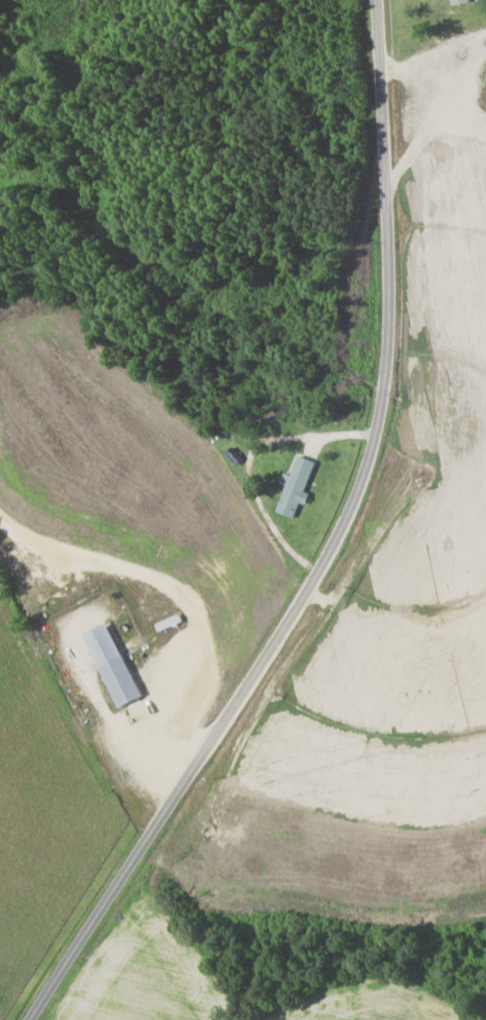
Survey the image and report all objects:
building: (297, 486)
road: (328, 549)
building: (115, 665)

